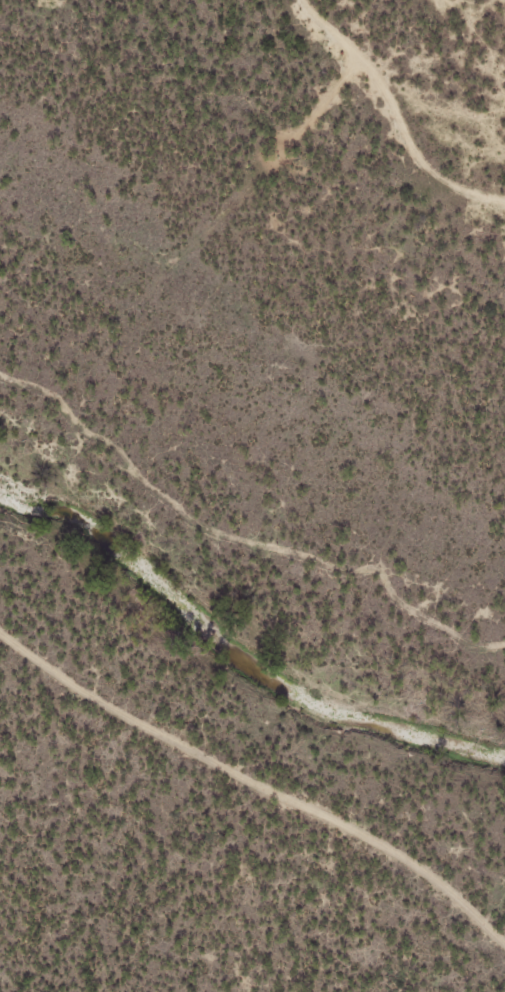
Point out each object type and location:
river: (232, 670)
road: (249, 801)

